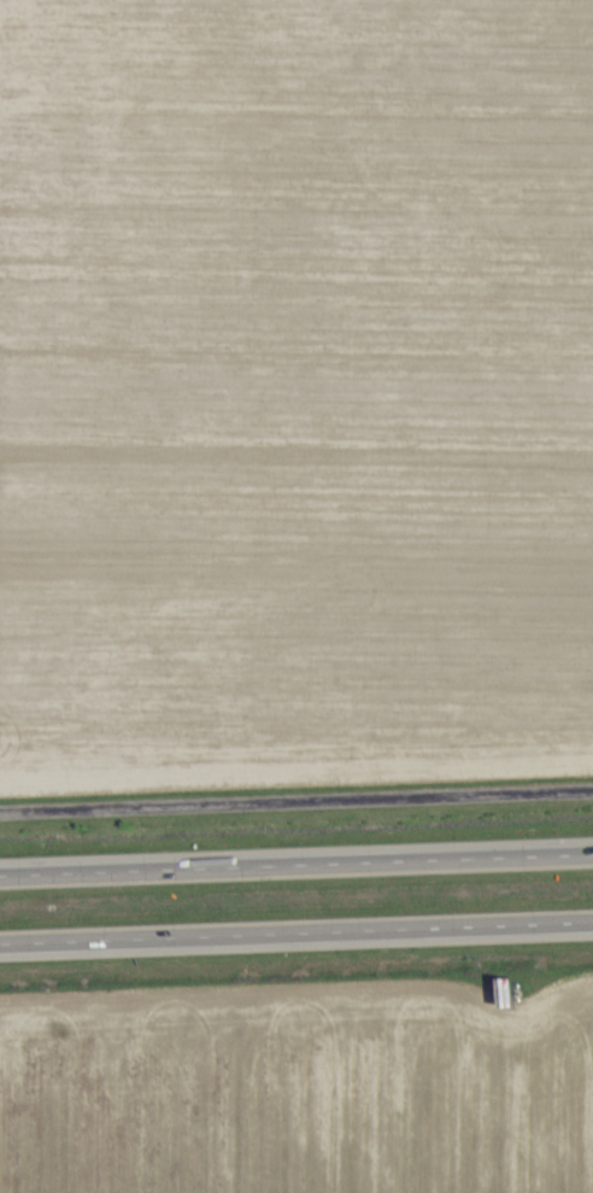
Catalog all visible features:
road: (296, 807)
road: (296, 870)
road: (296, 945)

